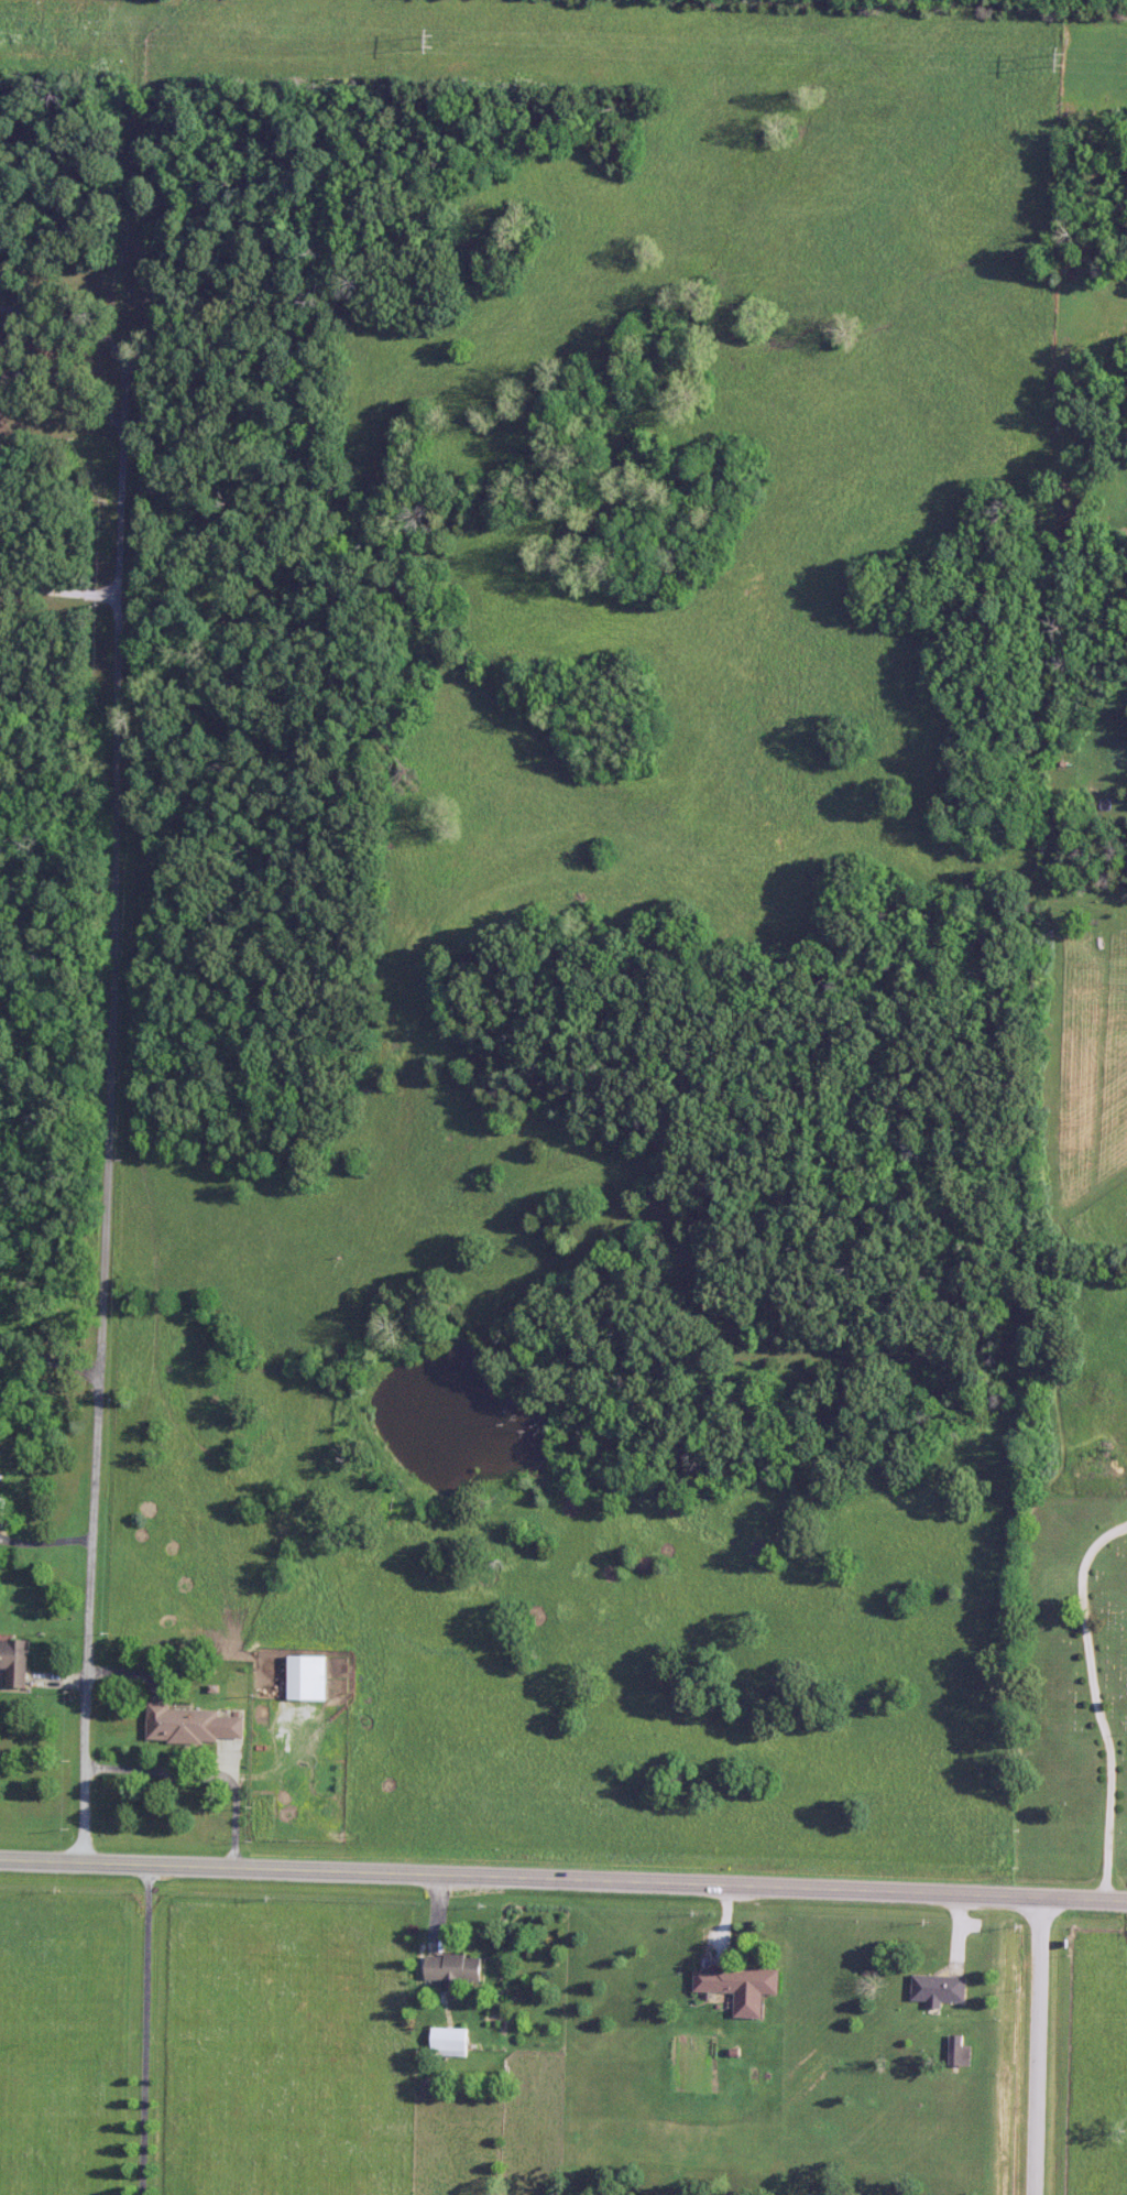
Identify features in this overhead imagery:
road: (2, 346)
road: (61, 587)
road: (113, 1039)
road: (52, 1351)
building: (2, 1508)
building: (17, 1661)
building: (311, 1677)
building: (198, 1724)
road: (206, 1761)
road: (563, 1877)
building: (457, 1968)
building: (743, 1987)
building: (940, 1989)
road: (143, 2029)
building: (451, 2042)
road: (1043, 2044)

